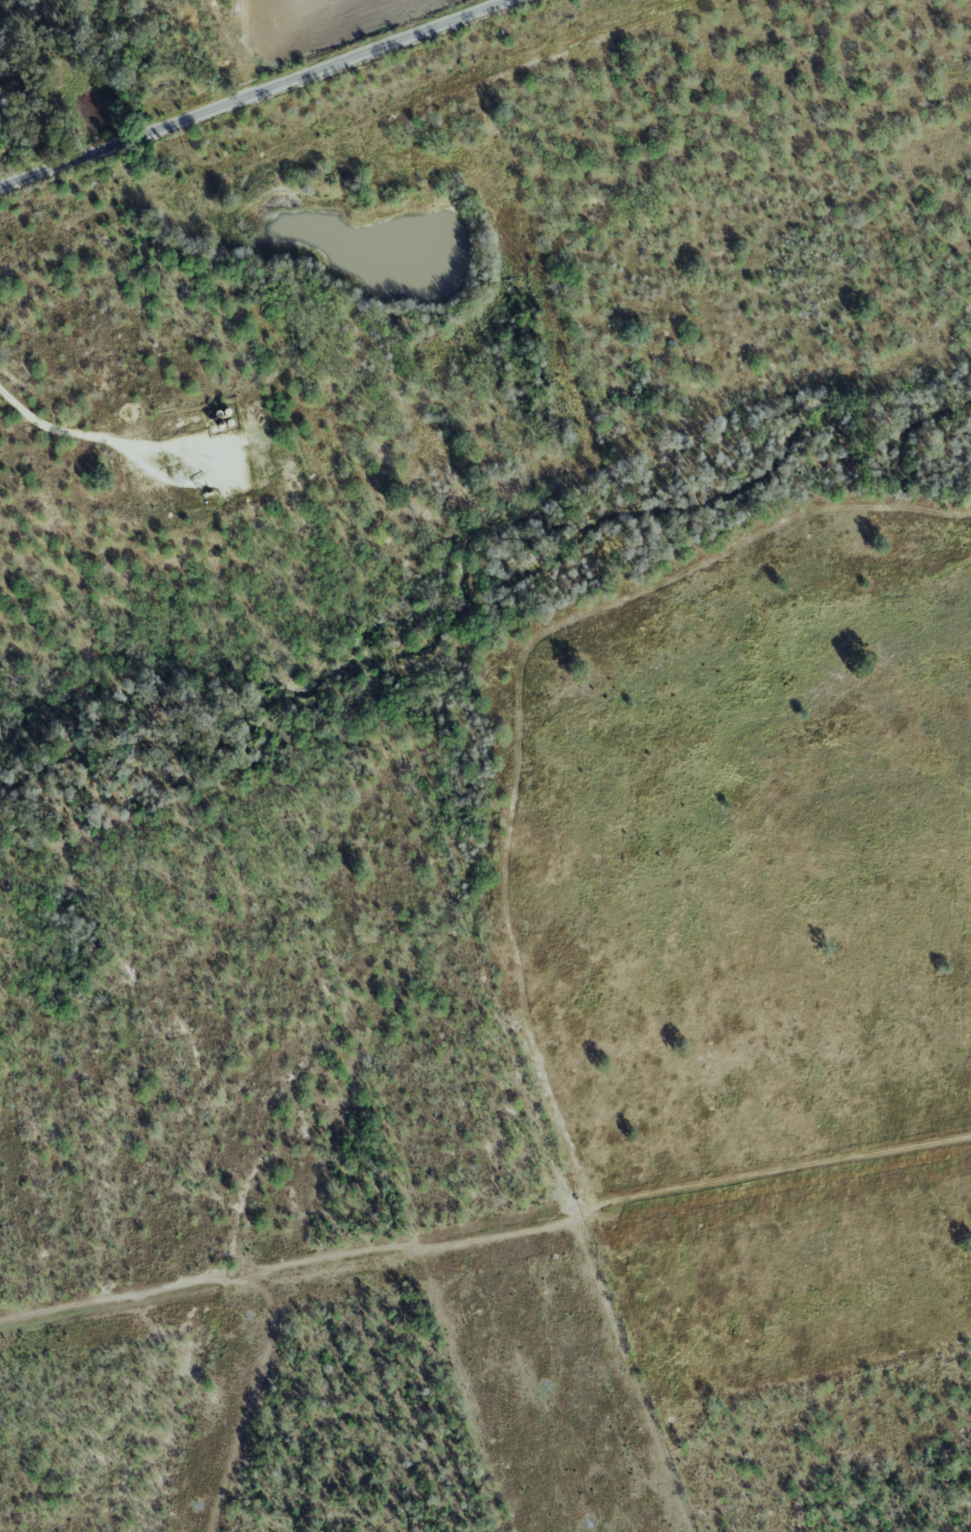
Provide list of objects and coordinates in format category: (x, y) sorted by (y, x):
road: (253, 93)
road: (64, 432)
petroleum well: (210, 492)

